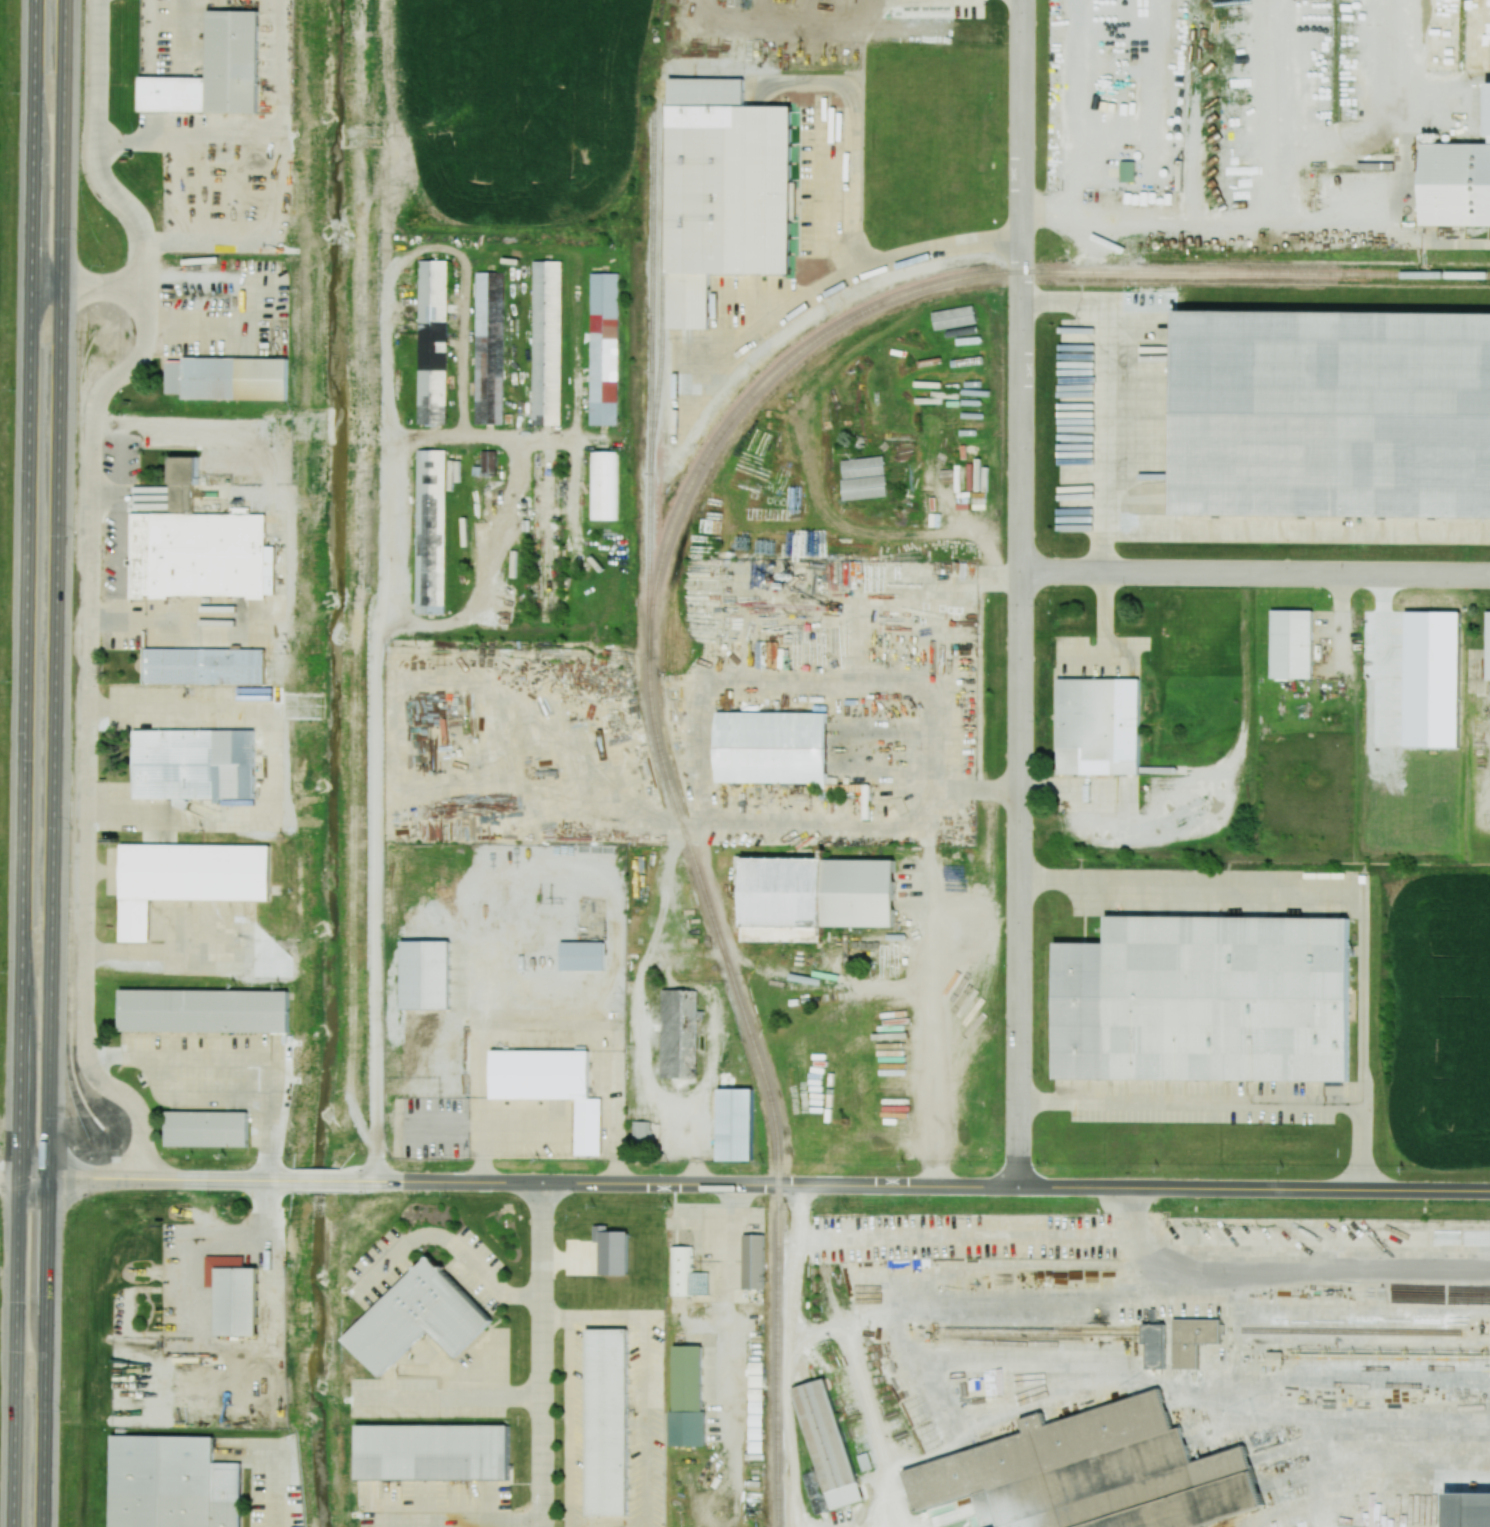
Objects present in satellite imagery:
building: (232, 54)
road: (1273, 110)
road: (1072, 131)
road: (186, 141)
building: (1127, 171)
landfill: (2, 180)
road: (280, 181)
building: (1456, 185)
building: (730, 189)
road: (849, 217)
road: (1281, 219)
railway: (663, 274)
road: (89, 289)
building: (954, 317)
road: (765, 320)
building: (434, 343)
building: (548, 343)
building: (491, 348)
building: (605, 351)
railway: (651, 374)
building: (237, 379)
road: (1101, 396)
building: (1332, 405)
road: (181, 427)
building: (183, 467)
building: (603, 486)
road: (1295, 528)
building: (433, 532)
railway: (659, 569)
road: (1255, 573)
road: (90, 583)
road: (1021, 593)
building: (1291, 644)
building: (1488, 647)
building: (204, 664)
building: (1098, 726)
building: (771, 739)
road: (25, 763)
road: (54, 763)
building: (192, 764)
road: (270, 766)
road: (548, 869)
building: (195, 872)
building: (779, 883)
road: (1298, 887)
building: (581, 948)
road: (156, 957)
building: (426, 968)
building: (1205, 1000)
building: (203, 1005)
building: (680, 1026)
road: (189, 1059)
building: (540, 1069)
road: (200, 1096)
road: (1237, 1102)
building: (207, 1123)
building: (737, 1127)
building: (642, 1133)
road: (9, 1174)
road: (753, 1184)
road: (450, 1244)
building: (615, 1251)
road: (269, 1257)
building: (755, 1260)
building: (687, 1274)
road: (198, 1280)
building: (237, 1292)
road: (728, 1311)
road: (594, 1317)
building: (418, 1318)
building: (1192, 1340)
building: (1154, 1345)
building: (1168, 1349)
road: (543, 1355)
road: (451, 1397)
building: (688, 1399)
road: (569, 1421)
building: (609, 1421)
road: (645, 1422)
building: (430, 1446)
building: (826, 1449)
building: (1090, 1474)
building: (161, 1478)
road: (275, 1487)
building: (1470, 1510)
road: (454, 1521)

